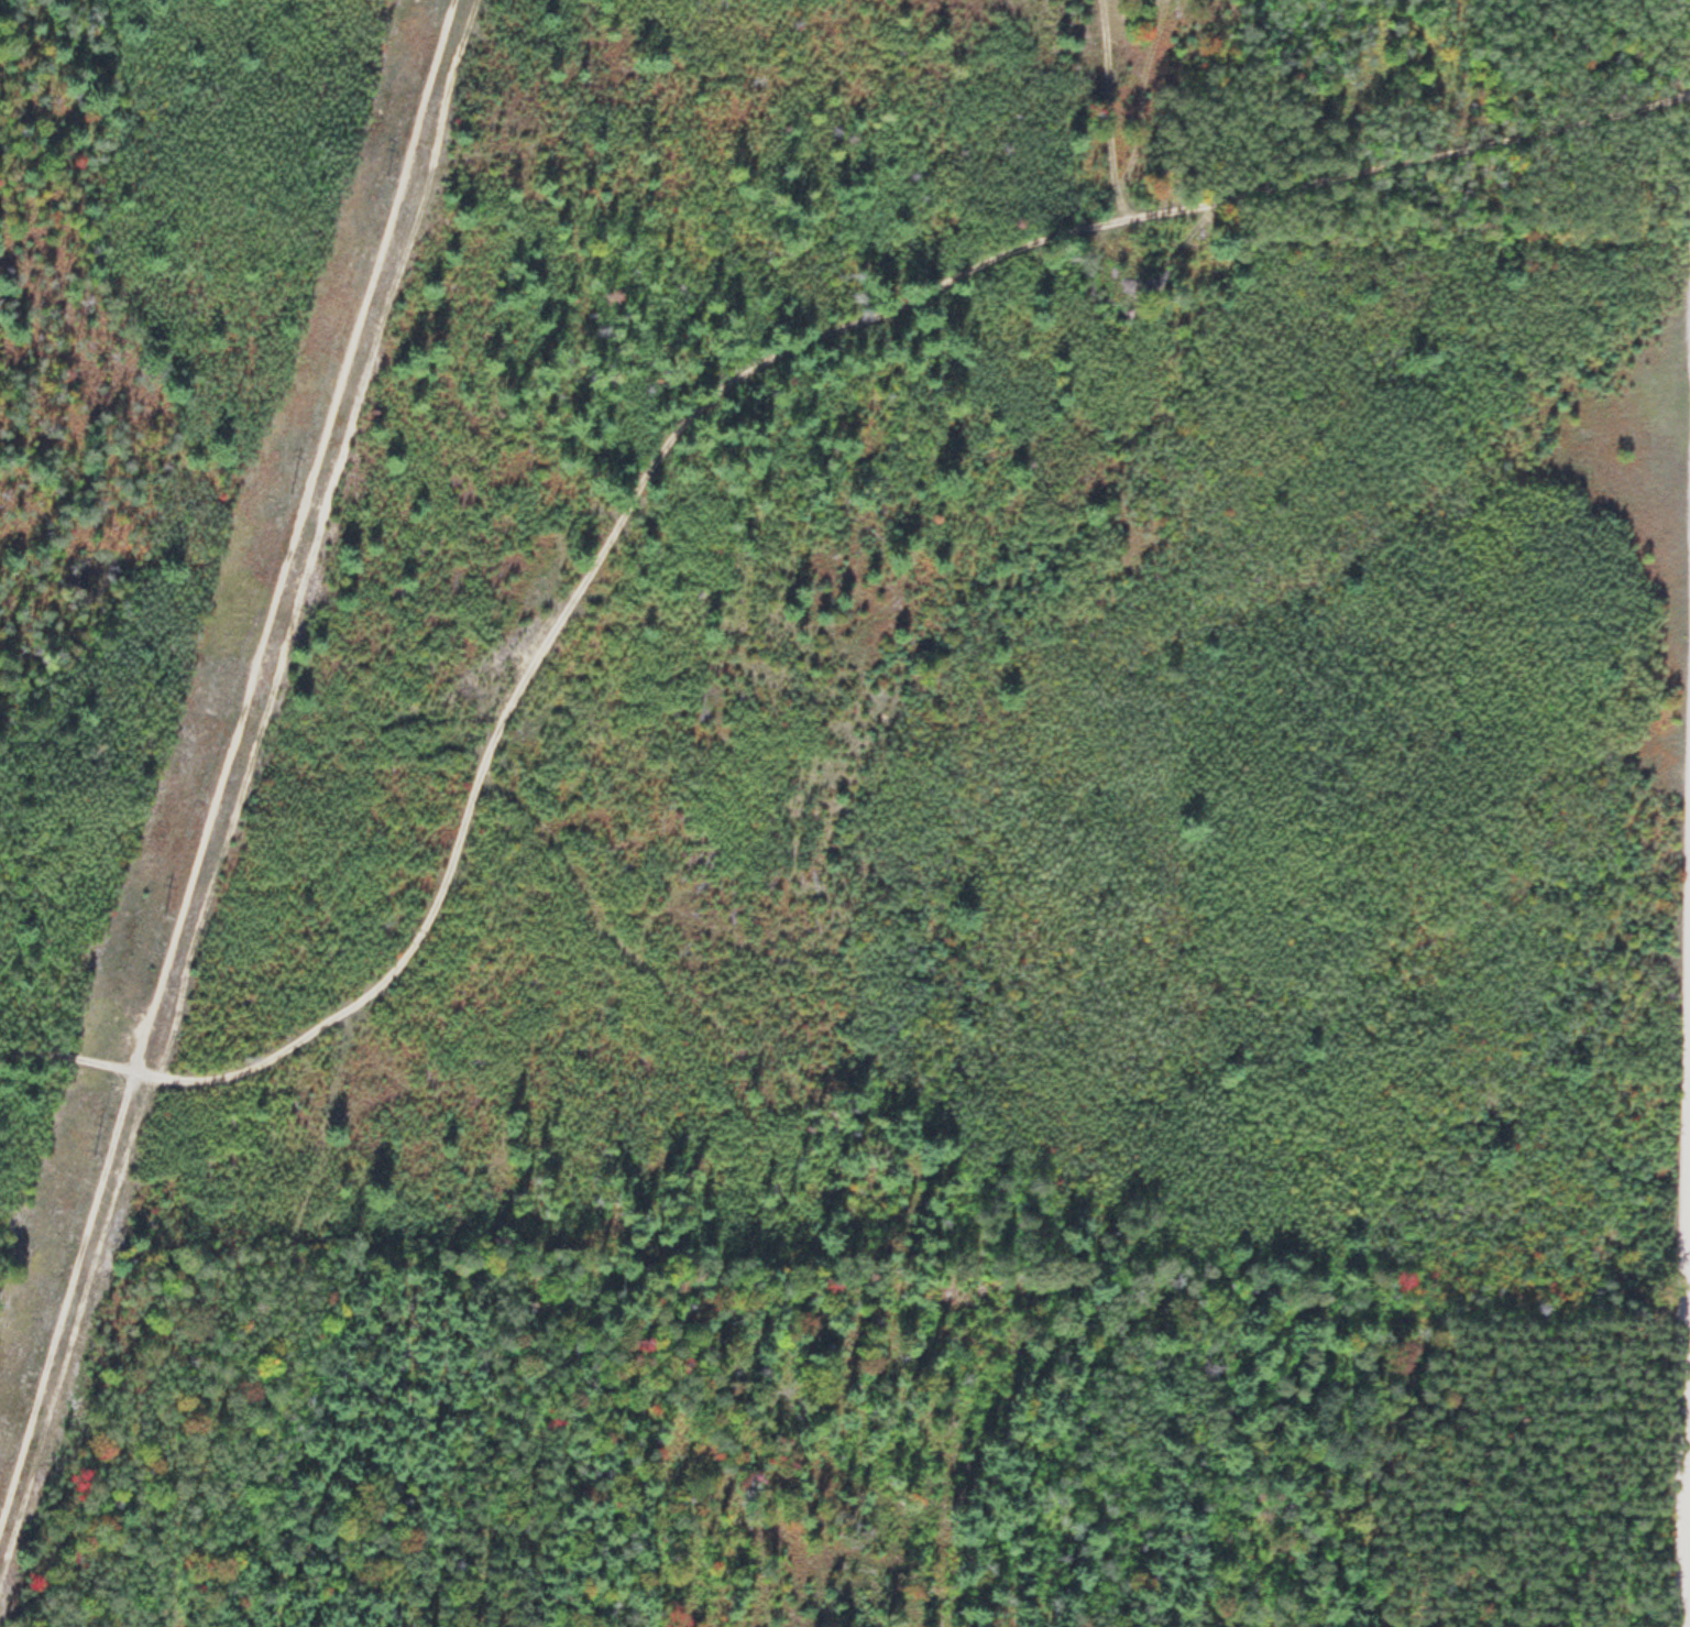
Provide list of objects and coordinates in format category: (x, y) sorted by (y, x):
road: (691, 417)
road: (226, 758)
road: (1683, 1333)

